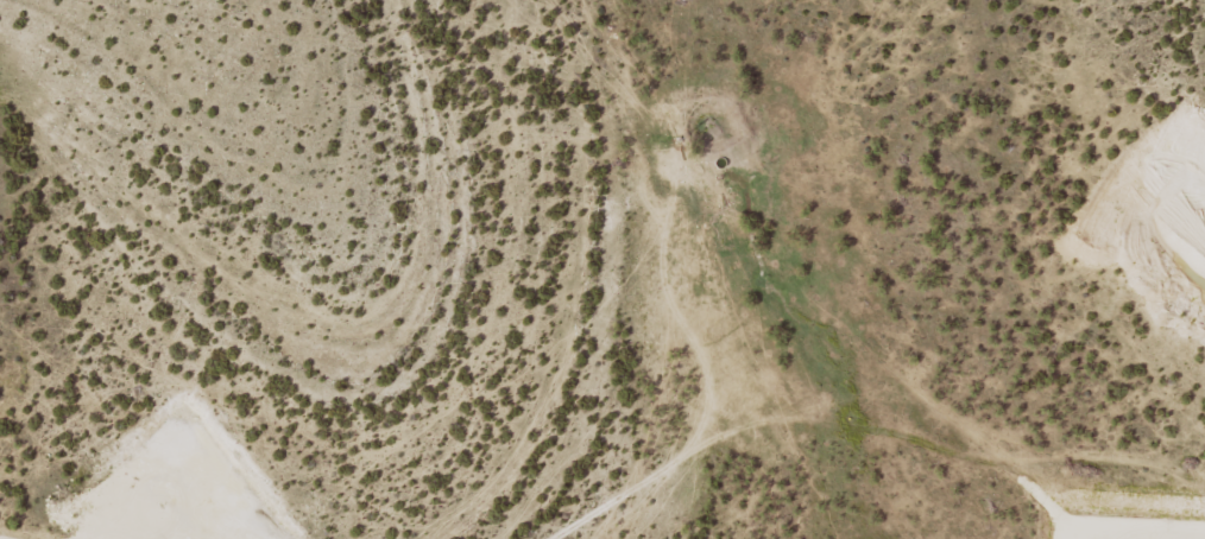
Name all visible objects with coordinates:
road: (742, 260)
road: (619, 424)

